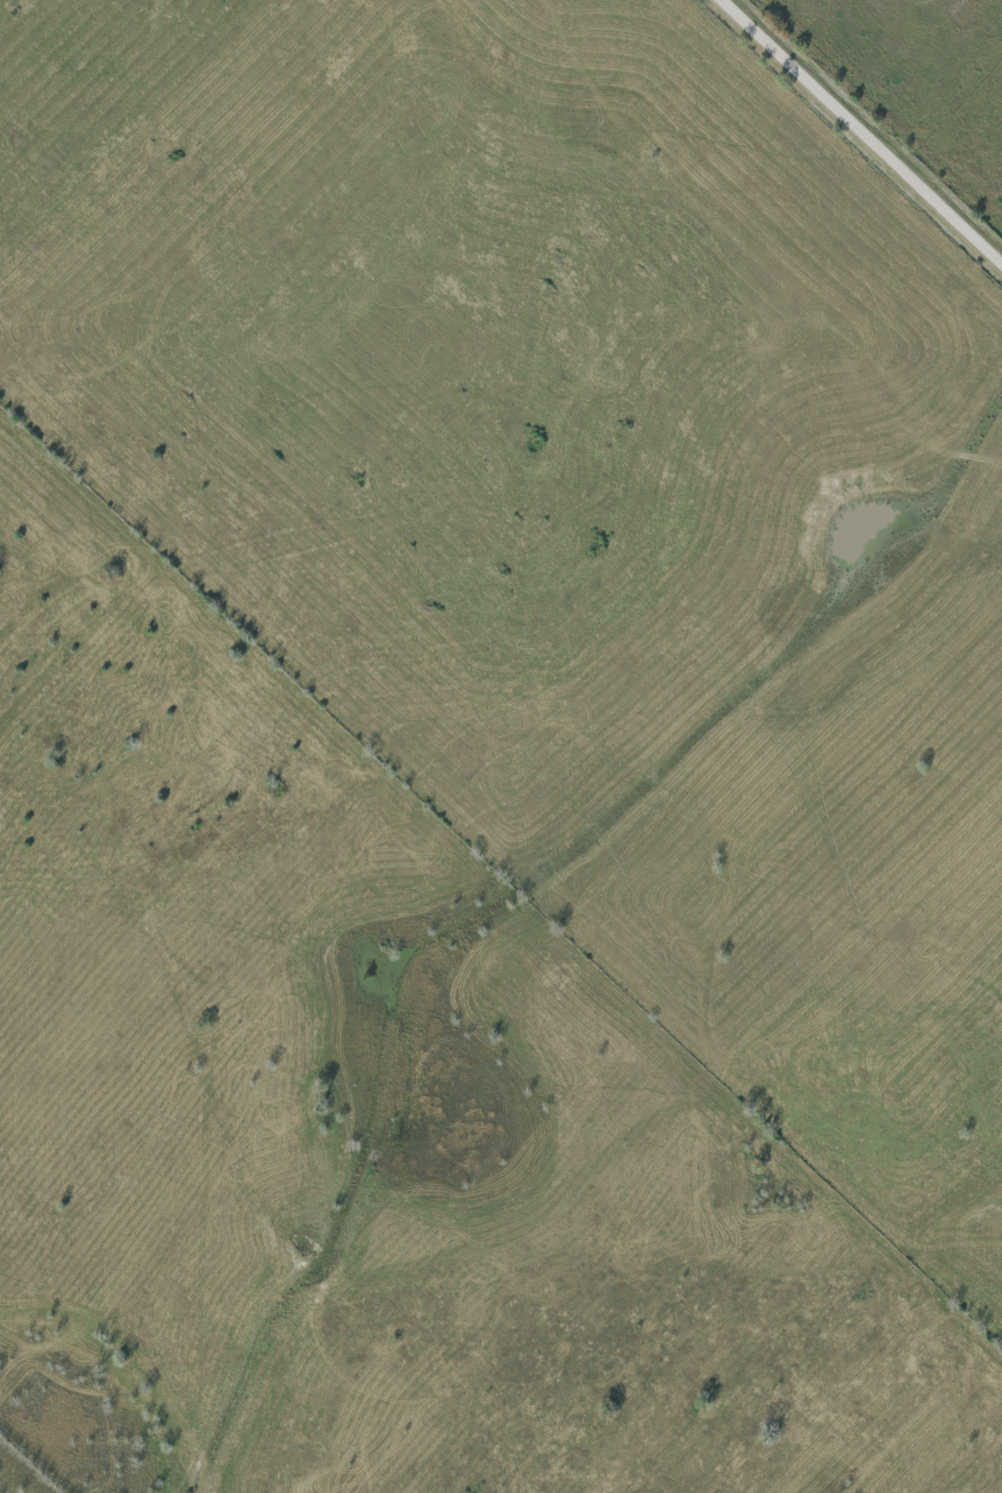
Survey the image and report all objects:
road: (864, 128)

